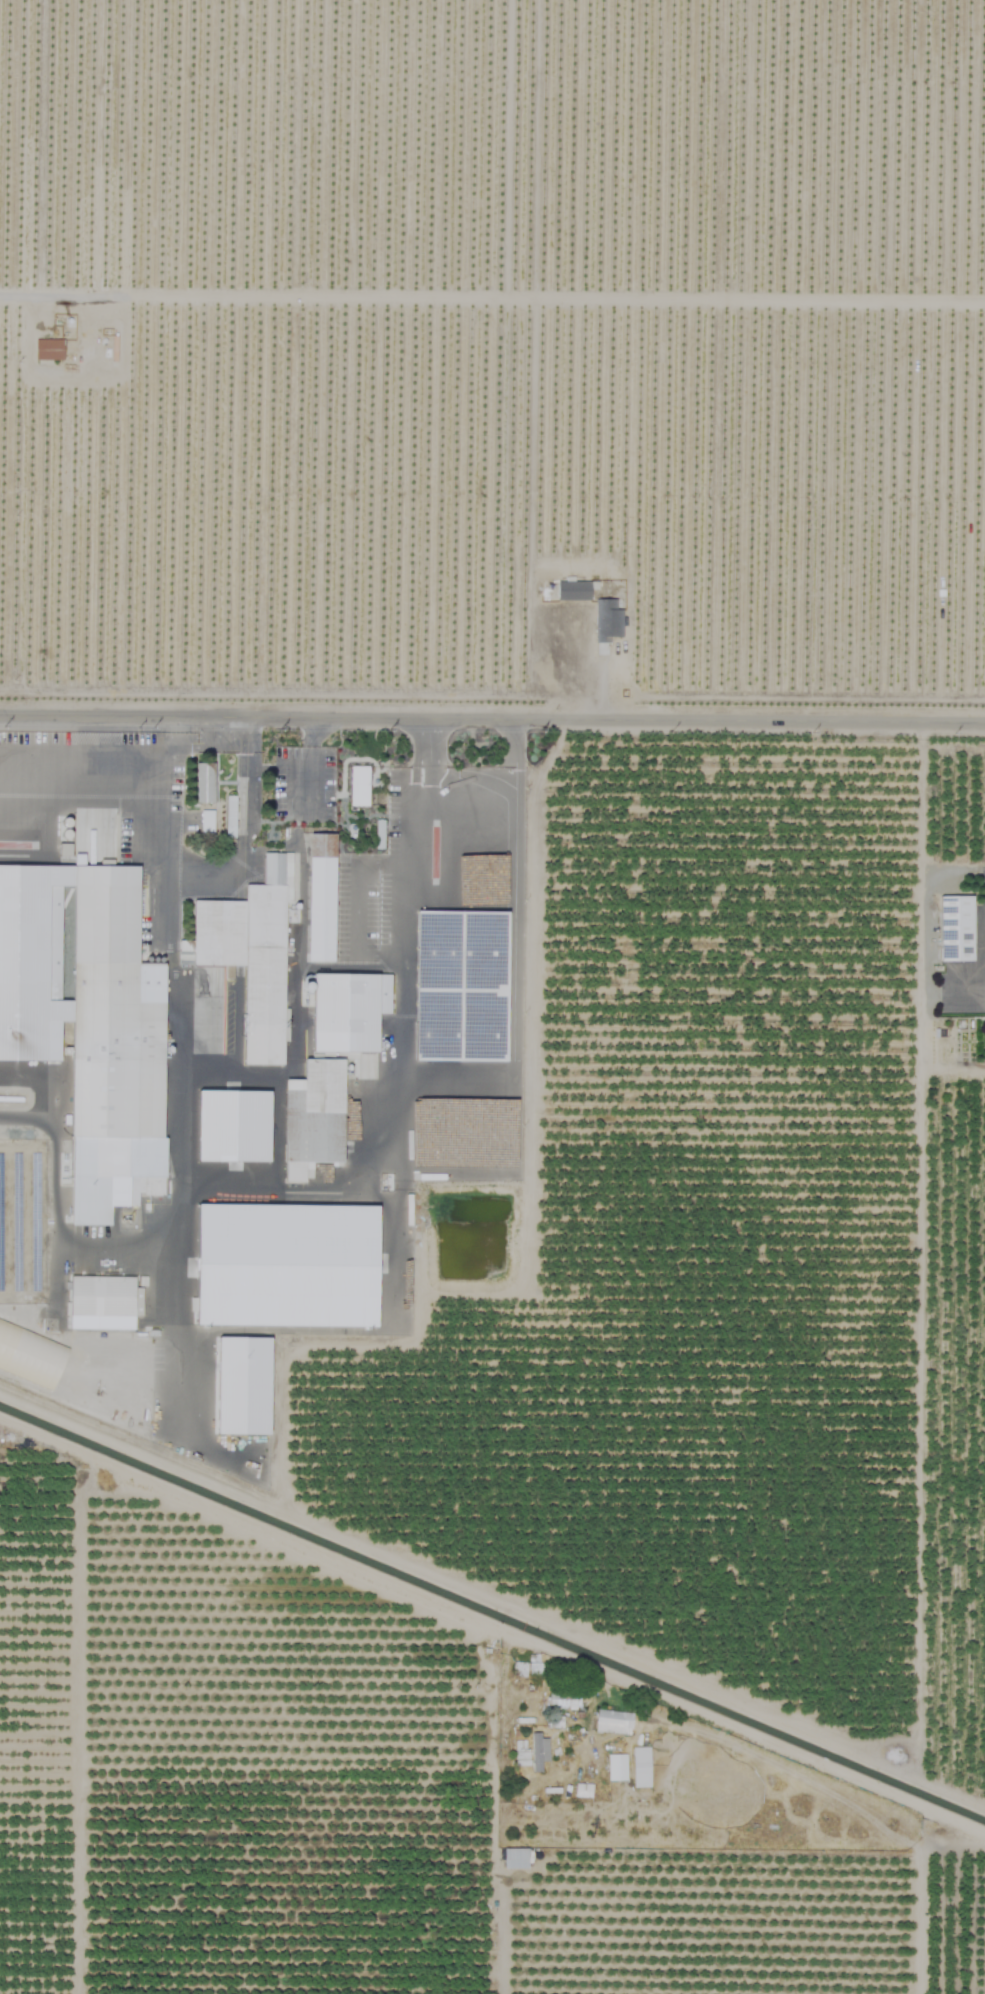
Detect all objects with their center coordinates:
road: (59, 296)
building: (48, 349)
road: (31, 506)
building: (573, 590)
building: (607, 620)
road: (602, 686)
road: (492, 714)
road: (180, 725)
road: (242, 726)
road: (211, 739)
road: (93, 761)
building: (204, 782)
building: (359, 786)
road: (471, 788)
road: (241, 805)
road: (152, 858)
building: (320, 897)
building: (251, 955)
crop: (519, 996)
building: (347, 1011)
building: (88, 1021)
building: (313, 1118)
building: (232, 1125)
building: (103, 1302)
building: (30, 1355)
building: (242, 1386)
building: (564, 1699)
building: (613, 1722)
building: (538, 1751)
building: (616, 1767)
building: (641, 1767)
road: (493, 1820)
building: (515, 1858)

